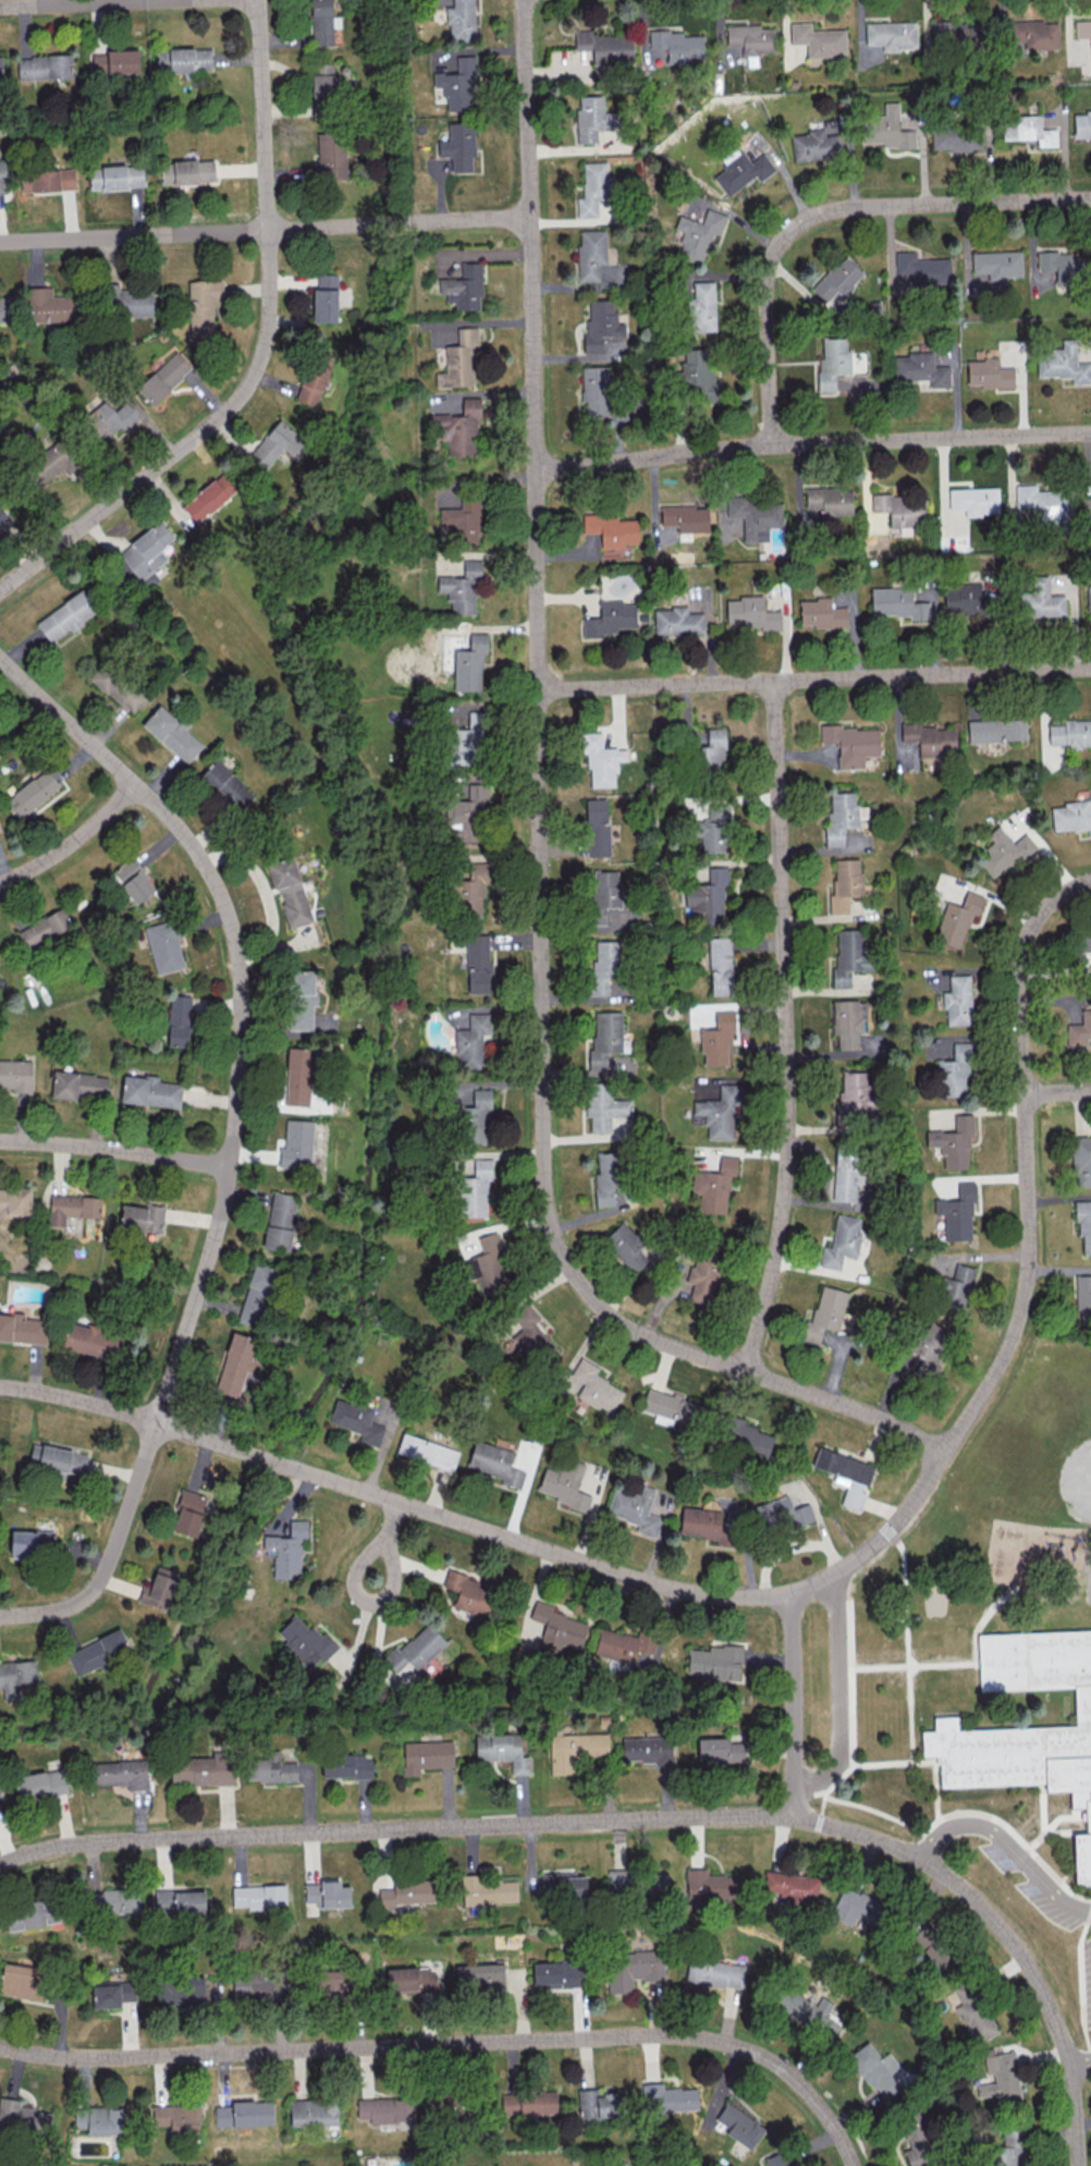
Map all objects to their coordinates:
road: (84, 2)
building: (461, 20)
building: (321, 22)
building: (1082, 28)
building: (956, 33)
building: (1034, 33)
building: (892, 34)
building: (750, 38)
building: (819, 39)
building: (678, 45)
building: (606, 47)
building: (184, 59)
building: (115, 61)
building: (1, 66)
building: (45, 66)
building: (458, 84)
building: (324, 86)
building: (592, 118)
building: (1082, 124)
building: (887, 129)
building: (1028, 130)
building: (956, 137)
building: (458, 145)
building: (814, 145)
building: (331, 155)
building: (187, 171)
building: (741, 171)
building: (2, 176)
building: (115, 176)
building: (48, 180)
building: (592, 188)
road: (830, 215)
road: (265, 229)
building: (698, 234)
building: (597, 260)
building: (997, 264)
building: (1064, 266)
building: (923, 269)
building: (838, 281)
building: (464, 286)
building: (324, 297)
building: (128, 301)
building: (51, 305)
building: (5, 306)
building: (204, 307)
road: (267, 307)
building: (702, 307)
building: (602, 328)
building: (459, 360)
building: (832, 362)
building: (1063, 364)
building: (921, 368)
building: (698, 371)
building: (988, 374)
building: (164, 377)
building: (314, 379)
building: (596, 390)
building: (108, 419)
building: (457, 427)
road: (812, 443)
building: (277, 445)
building: (49, 463)
building: (208, 498)
building: (830, 500)
building: (974, 500)
building: (1043, 504)
building: (900, 509)
building: (2, 514)
building: (755, 516)
building: (685, 517)
building: (464, 518)
building: (611, 531)
road: (61, 542)
building: (147, 550)
road: (24, 571)
building: (462, 588)
building: (1089, 596)
building: (963, 597)
building: (1039, 600)
building: (897, 603)
building: (750, 613)
building: (821, 613)
building: (66, 615)
building: (610, 617)
building: (677, 621)
building: (469, 664)
road: (813, 680)
building: (118, 686)
building: (996, 730)
building: (172, 733)
building: (1070, 733)
building: (930, 738)
building: (466, 743)
building: (850, 744)
building: (711, 750)
building: (601, 759)
building: (225, 785)
building: (32, 793)
building: (465, 816)
building: (1071, 816)
building: (597, 827)
building: (713, 830)
road: (73, 841)
road: (539, 849)
building: (1005, 852)
building: (845, 883)
building: (137, 886)
building: (605, 889)
building: (290, 891)
building: (469, 892)
building: (707, 896)
building: (957, 919)
building: (45, 928)
building: (1083, 940)
building: (163, 945)
building: (849, 956)
building: (477, 964)
building: (603, 965)
building: (720, 965)
building: (301, 999)
road: (238, 1001)
building: (957, 1001)
building: (179, 1020)
building: (849, 1021)
road: (785, 1028)
building: (1079, 1029)
building: (605, 1037)
building: (716, 1039)
building: (471, 1040)
building: (954, 1070)
building: (16, 1075)
building: (298, 1076)
building: (79, 1085)
road: (1057, 1090)
building: (149, 1091)
building: (854, 1096)
building: (603, 1105)
building: (719, 1111)
building: (474, 1118)
building: (953, 1142)
building: (296, 1145)
road: (115, 1148)
building: (1081, 1160)
building: (844, 1175)
building: (608, 1177)
building: (713, 1185)
building: (471, 1190)
building: (14, 1201)
building: (72, 1207)
building: (957, 1212)
building: (142, 1216)
building: (280, 1221)
building: (1083, 1223)
building: (842, 1240)
building: (626, 1248)
building: (488, 1264)
building: (702, 1278)
building: (955, 1289)
building: (257, 1295)
building: (1083, 1297)
building: (825, 1313)
building: (23, 1329)
building: (531, 1335)
building: (91, 1339)
building: (927, 1350)
building: (234, 1363)
building: (596, 1386)
building: (356, 1420)
building: (748, 1436)
building: (427, 1451)
building: (58, 1458)
park: (1052, 1458)
building: (494, 1463)
building: (846, 1474)
building: (565, 1484)
building: (635, 1509)
building: (189, 1513)
building: (779, 1515)
building: (711, 1521)
road: (387, 1540)
building: (30, 1543)
building: (286, 1551)
road: (111, 1555)
road: (1088, 1563)
building: (160, 1588)
building: (470, 1593)
road: (795, 1593)
road: (984, 1618)
building: (557, 1628)
road: (906, 1639)
building: (305, 1641)
building: (621, 1644)
building: (415, 1649)
building: (97, 1651)
building: (715, 1662)
road: (915, 1665)
road: (850, 1672)
building: (16, 1677)
road: (841, 1696)
road: (794, 1706)
building: (648, 1749)
building: (721, 1749)
building: (502, 1750)
building: (575, 1750)
building: (426, 1755)
building: (347, 1765)
road: (861, 1765)
building: (269, 1767)
building: (201, 1770)
building: (1014, 1771)
building: (121, 1773)
building: (40, 1784)
road: (935, 1791)
road: (884, 1814)
road: (1058, 1815)
road: (1042, 1825)
road: (463, 1827)
road: (1065, 1832)
road: (1020, 1840)
road: (1008, 1845)
road: (939, 1873)
building: (618, 1881)
building: (711, 1884)
building: (563, 1885)
building: (654, 1885)
building: (792, 1886)
building: (488, 1889)
building: (406, 1893)
parking lot: (1042, 1893)
building: (327, 1894)
building: (259, 1896)
building: (114, 1901)
building: (180, 1902)
building: (856, 1906)
building: (32, 1913)
building: (633, 1969)
building: (714, 1972)
building: (556, 1973)
building: (479, 1977)
building: (23, 1980)
building: (332, 1980)
building: (410, 1980)
road: (1080, 1980)
building: (256, 1985)
building: (179, 1990)
building: (113, 1994)
road: (1049, 2010)
building: (972, 2011)
building: (809, 2012)
road: (453, 2044)
road: (1079, 2065)
building: (877, 2070)
building: (1000, 2079)
building: (667, 2097)
building: (530, 2102)
building: (599, 2103)
building: (385, 2109)
building: (314, 2113)
building: (243, 2114)
building: (175, 2116)
building: (23, 2118)
building: (99, 2119)
building: (739, 2126)
building: (916, 2144)
building: (1010, 2149)
building: (777, 2159)

